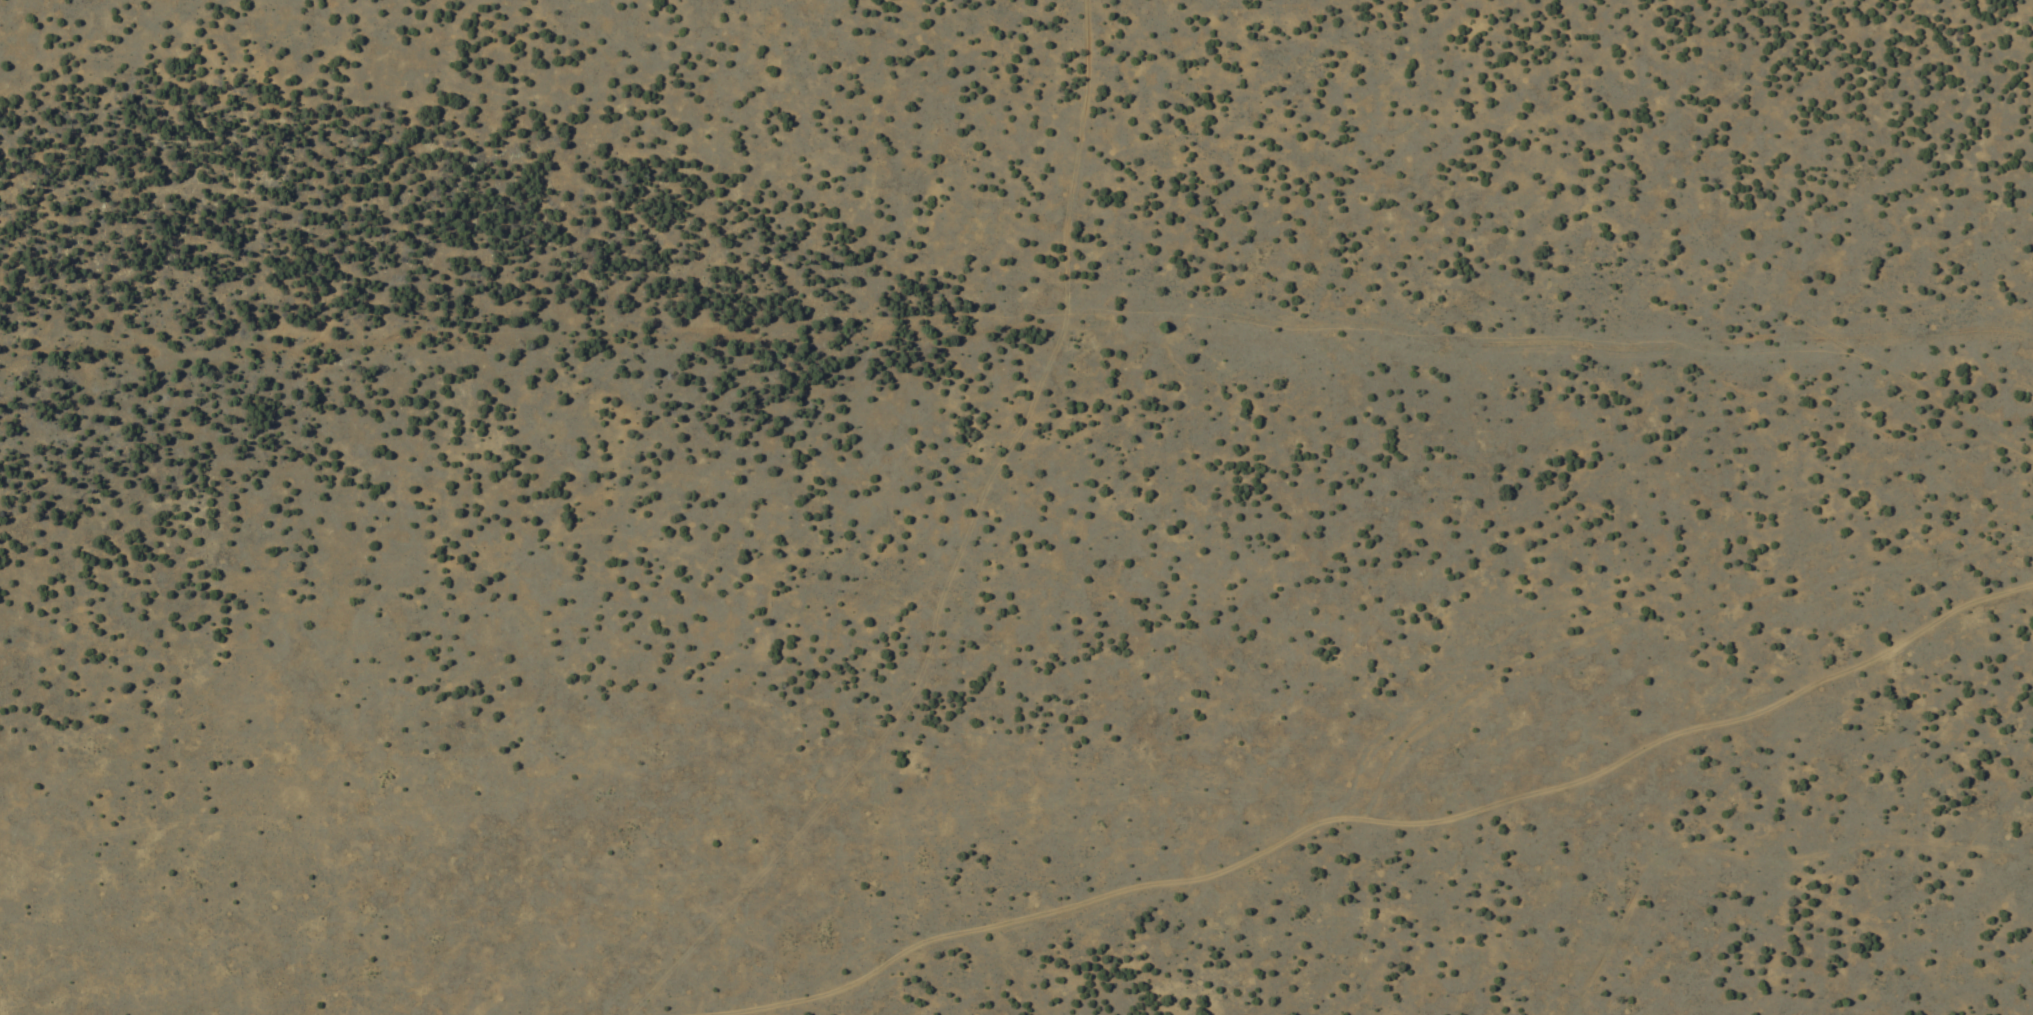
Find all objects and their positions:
road: (1755, 827)

